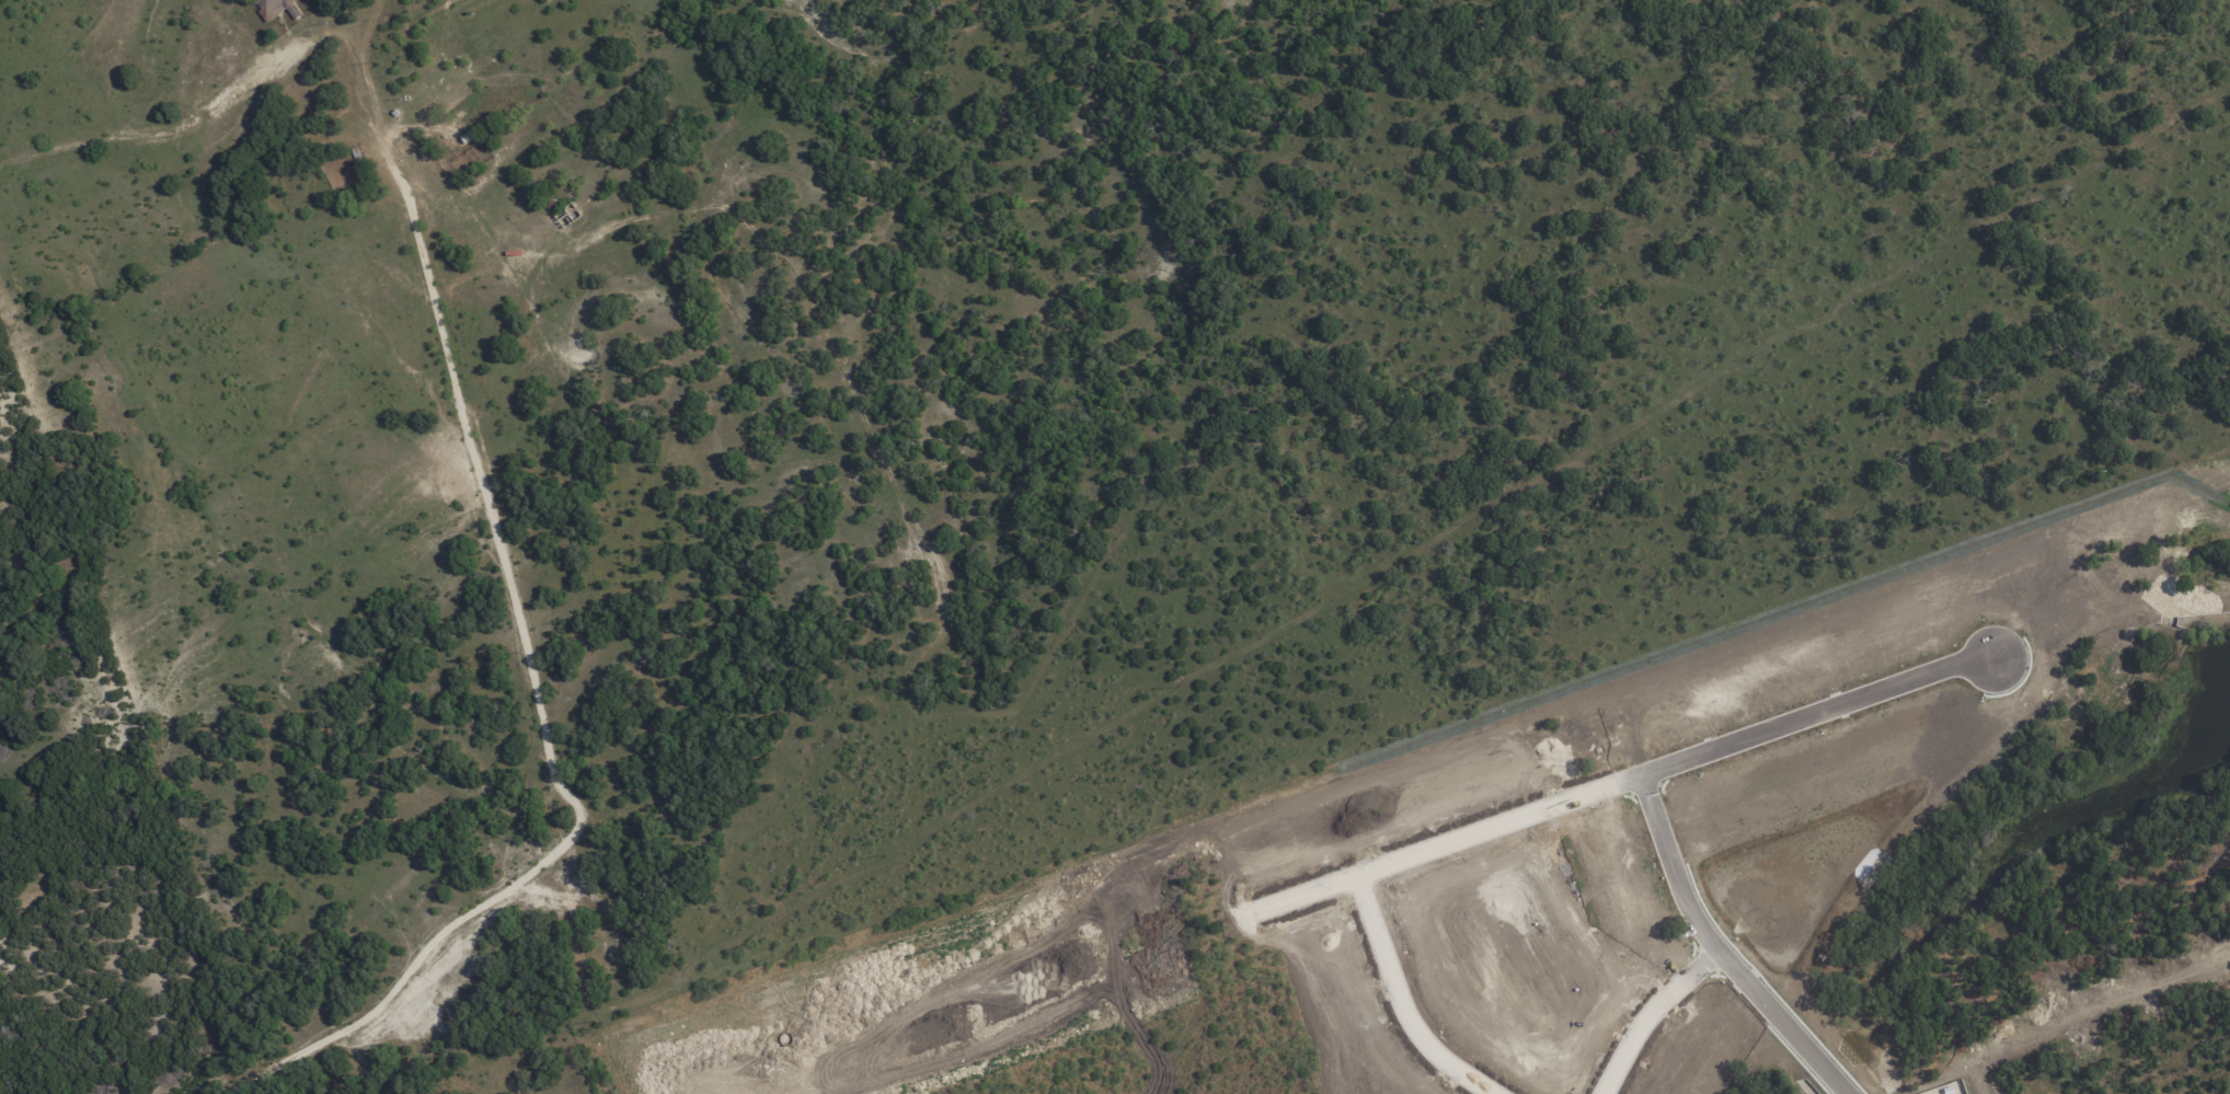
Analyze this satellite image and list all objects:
building: (274, 7)
road: (480, 483)
road: (1357, 865)
road: (1726, 944)
road: (1390, 959)
road: (2141, 979)
road: (1046, 998)
road: (1648, 1011)
road: (1196, 1013)
road: (916, 1059)
road: (716, 1093)

